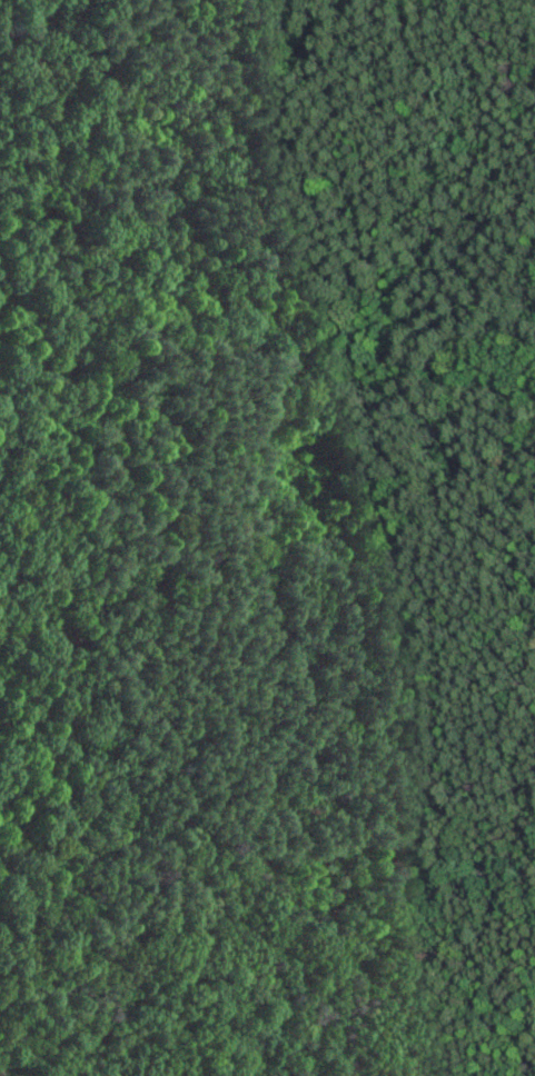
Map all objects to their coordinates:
road: (252, 865)

